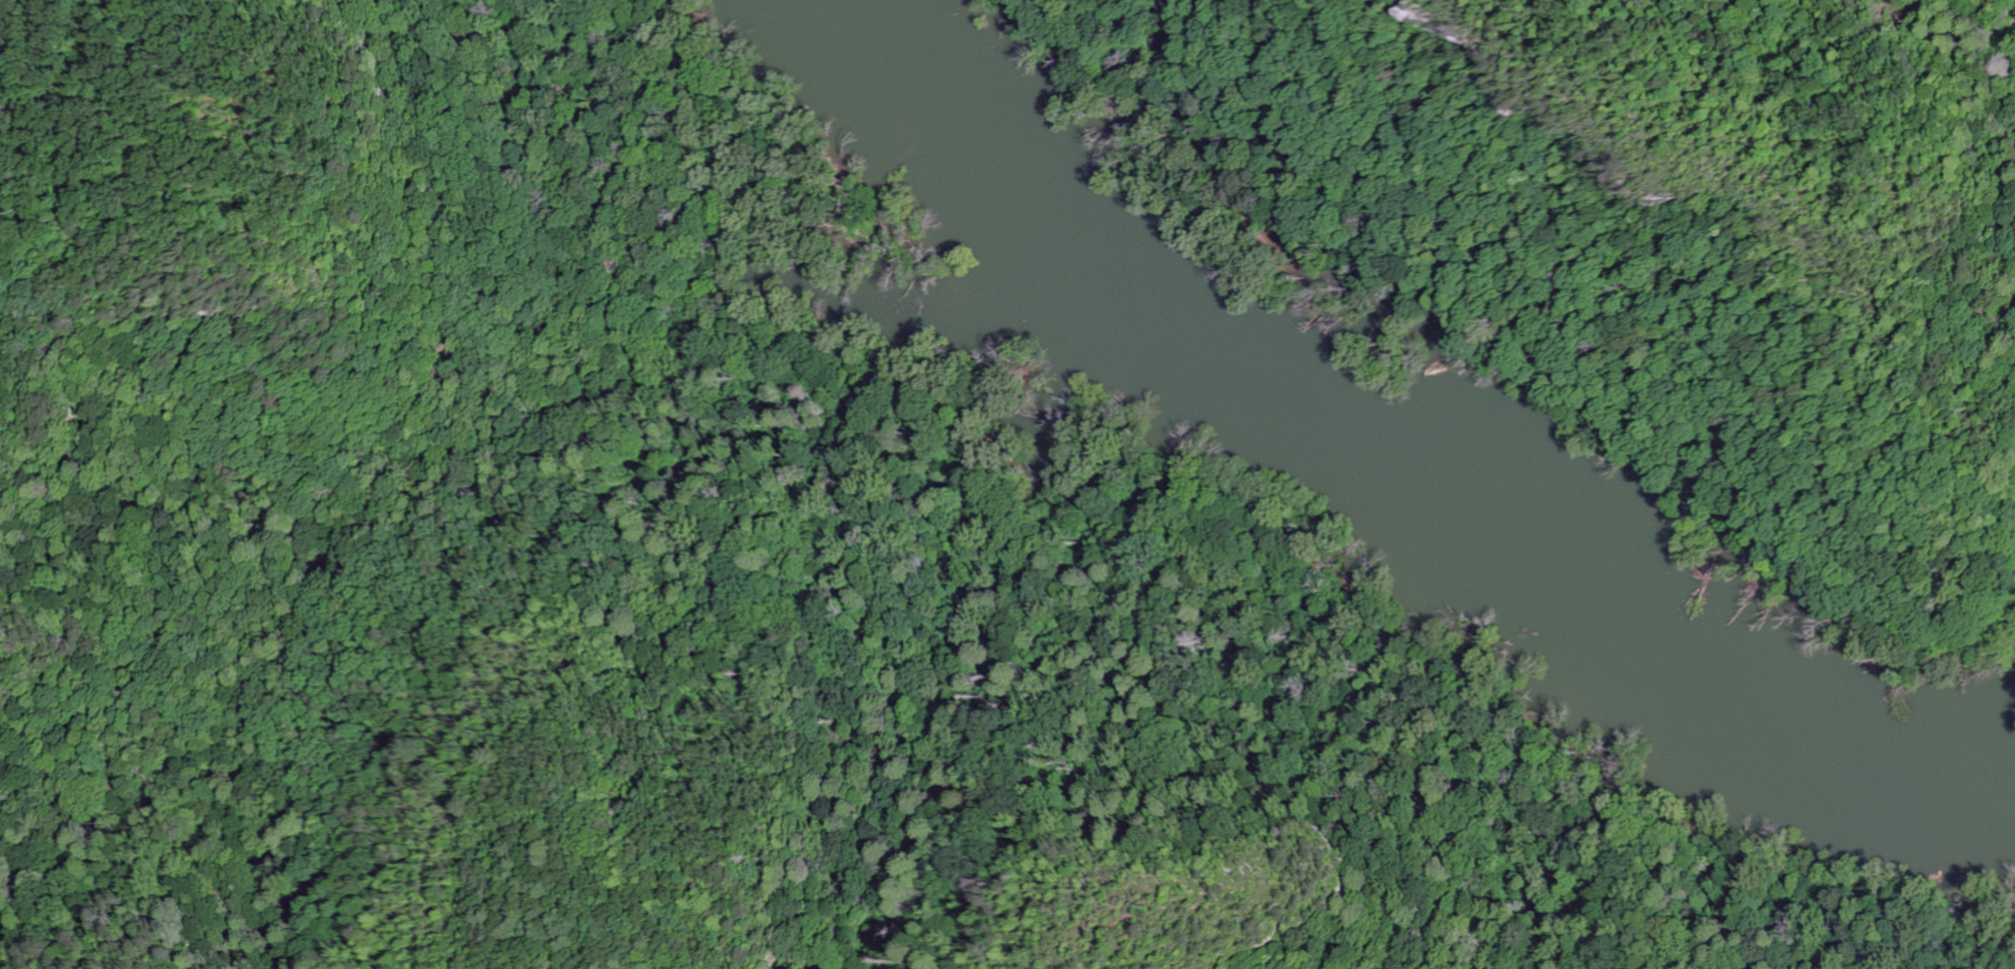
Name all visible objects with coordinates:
river: (1396, 473)

